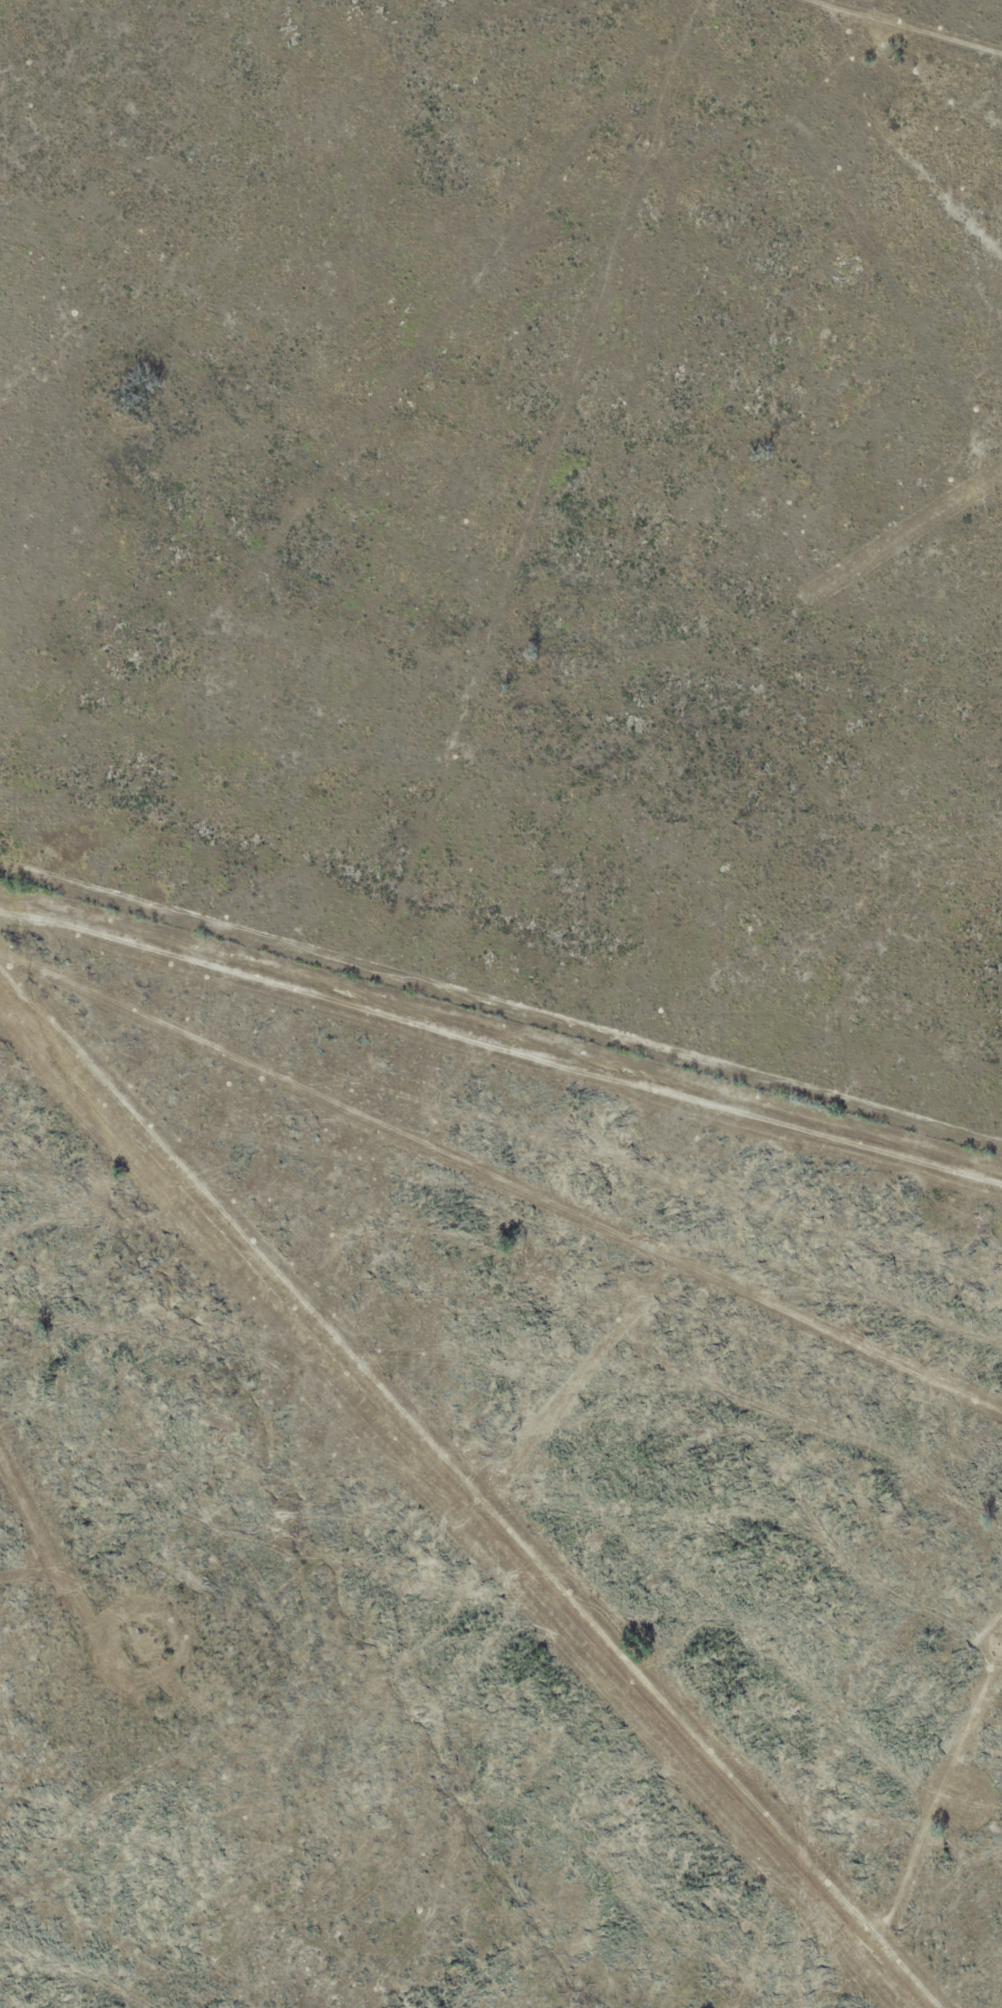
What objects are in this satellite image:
road: (501, 1031)

